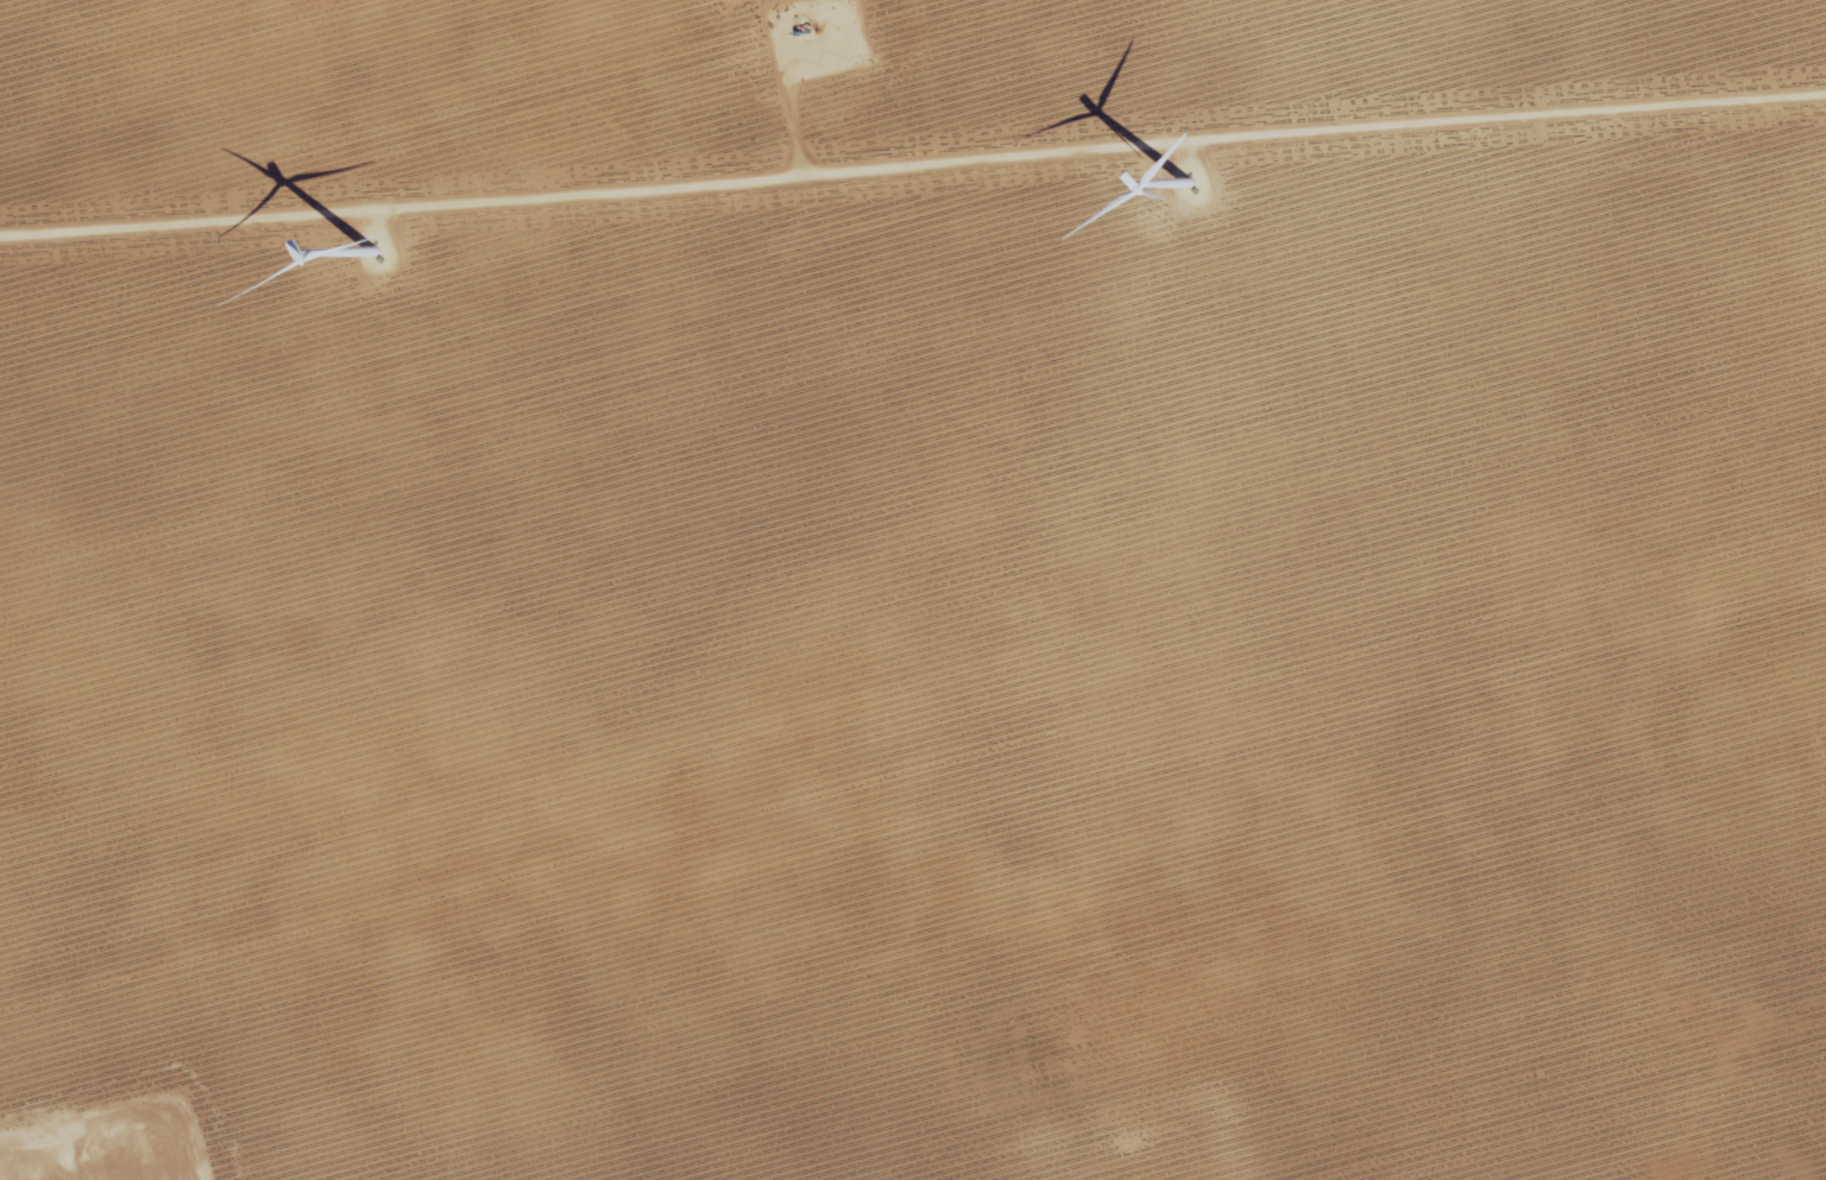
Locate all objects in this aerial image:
wind turbine: (1207, 182)
wind turbine: (372, 269)

